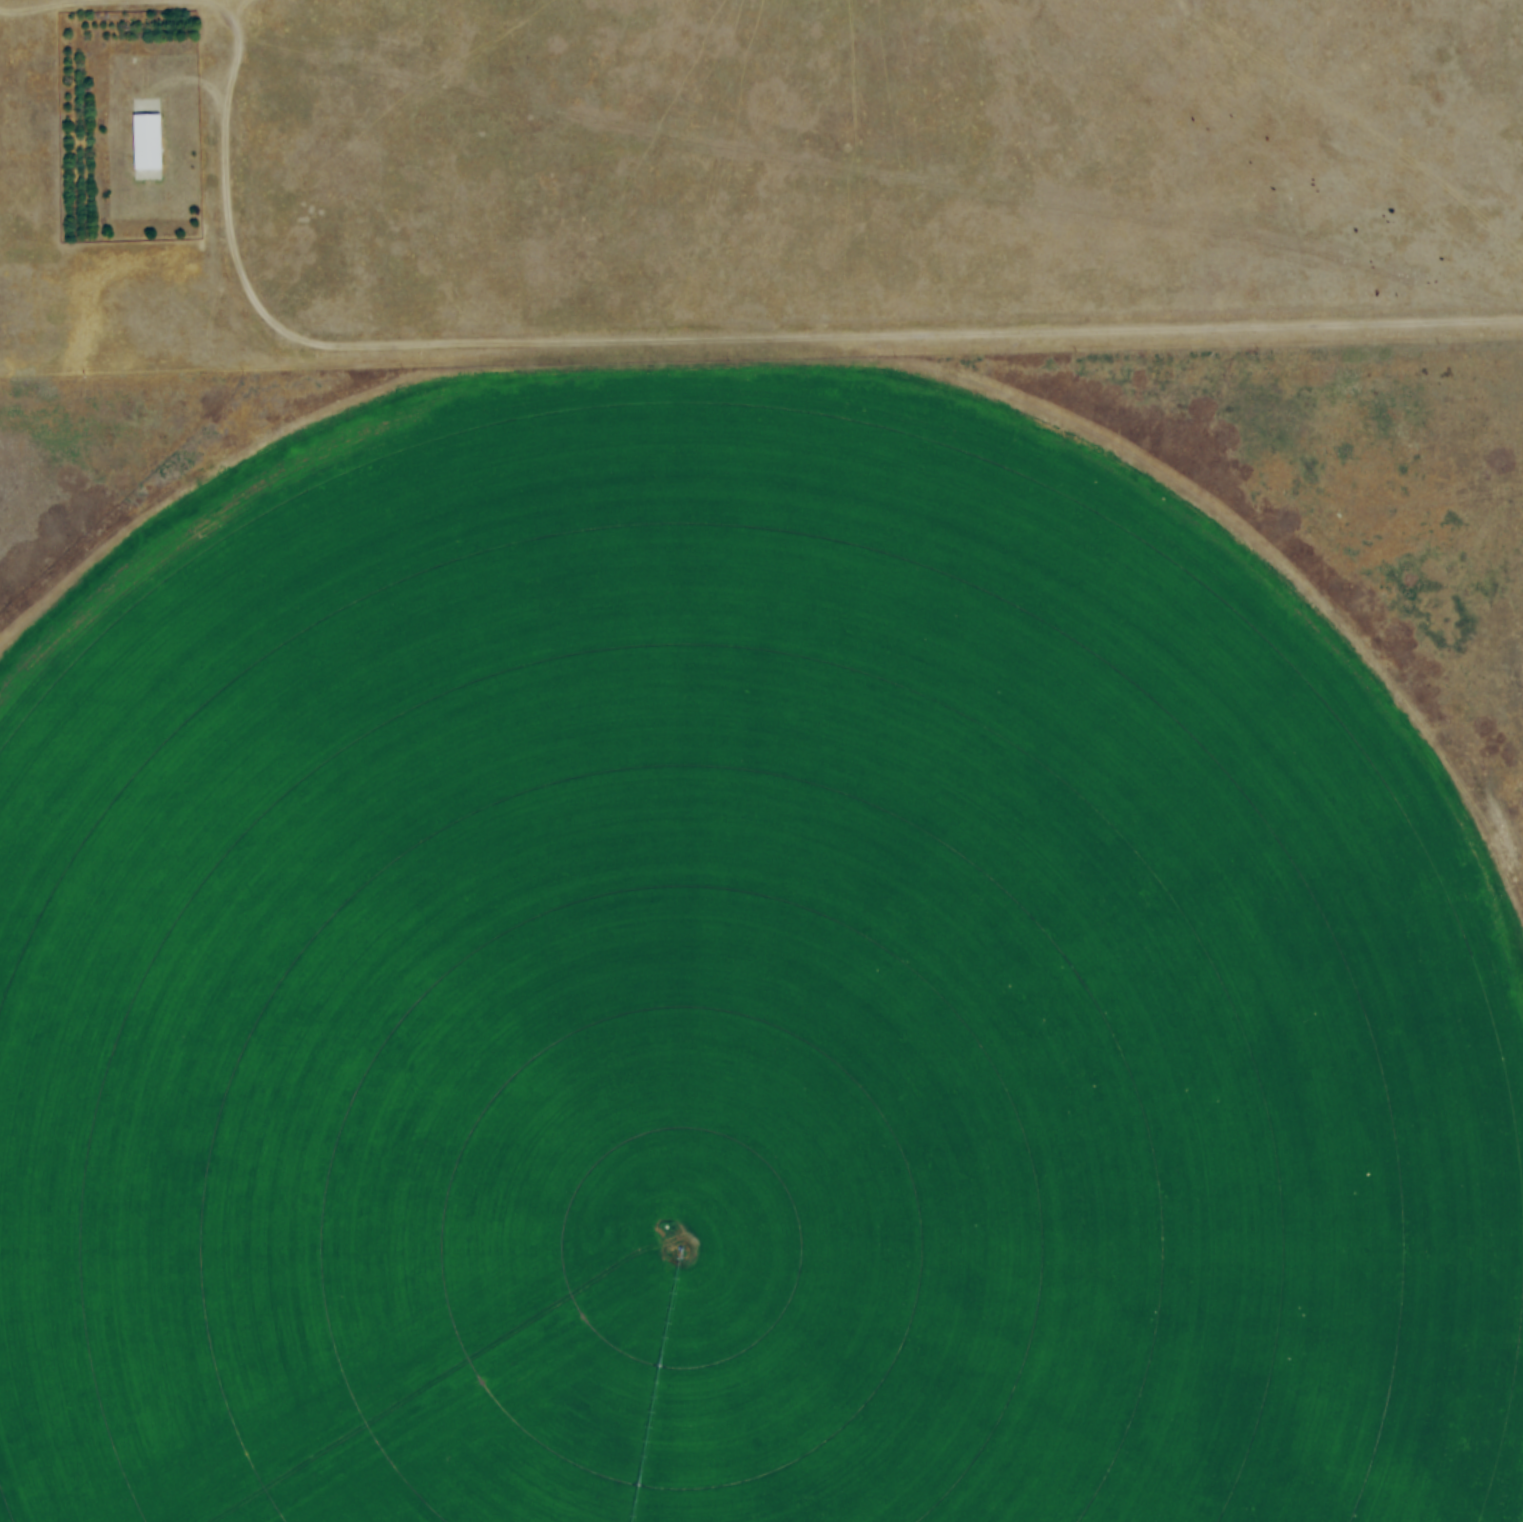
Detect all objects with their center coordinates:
road: (185, 1)
road: (209, 90)
building: (147, 143)
crop: (738, 993)

